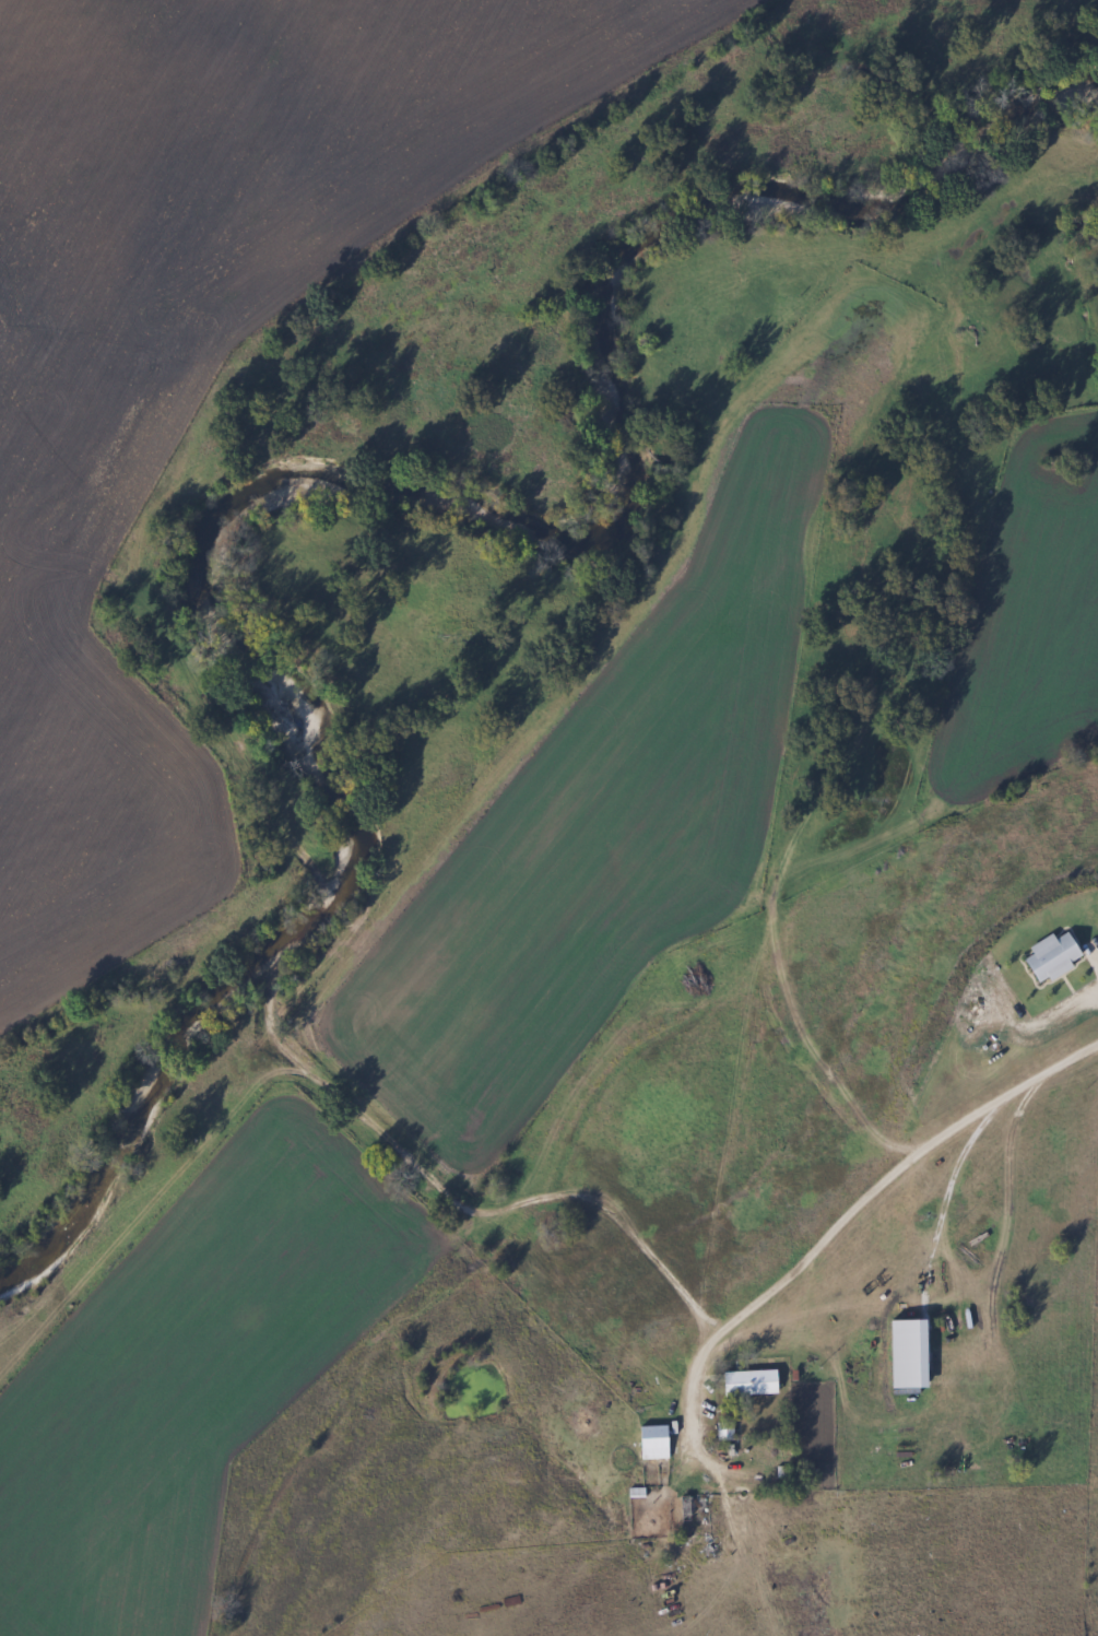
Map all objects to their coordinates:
river: (363, 473)
road: (877, 1184)
building: (747, 1384)
building: (723, 1432)
building: (652, 1444)
building: (695, 1517)

